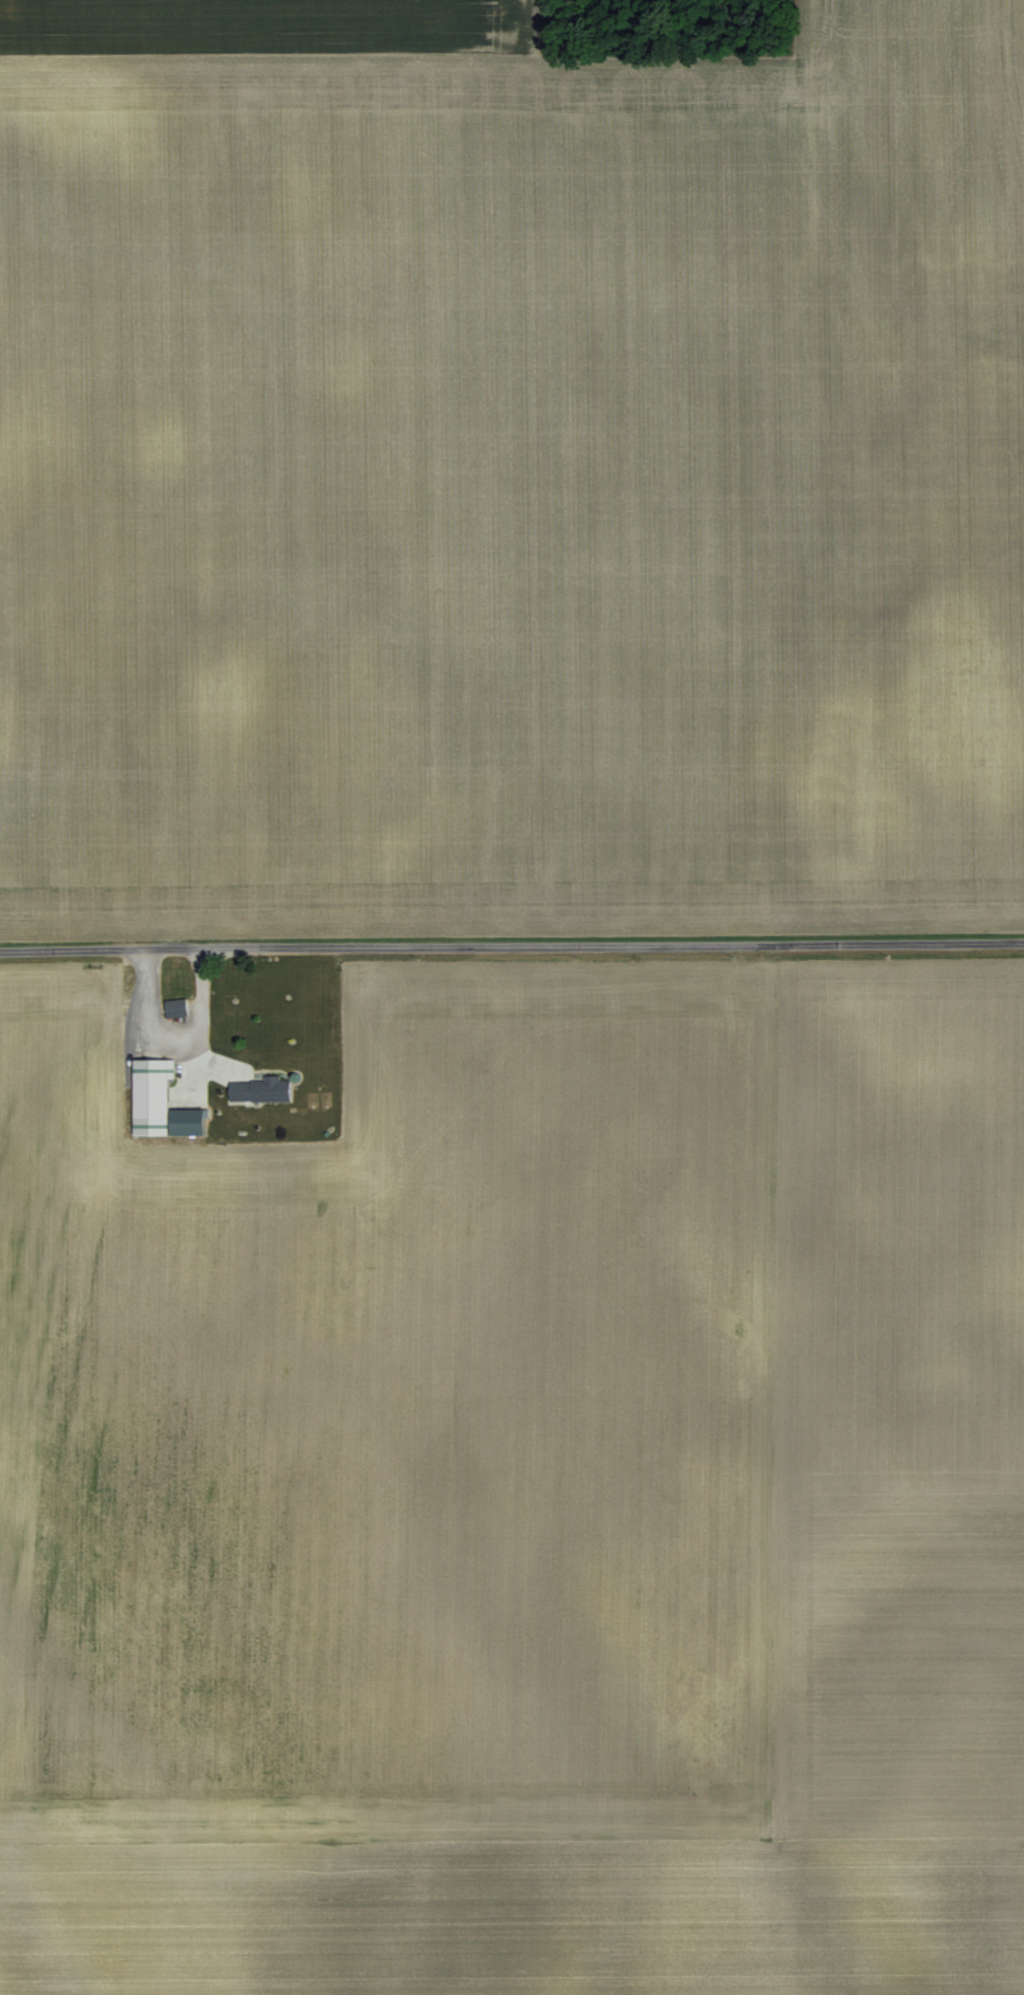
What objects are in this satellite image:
road: (512, 945)
road: (171, 1050)

